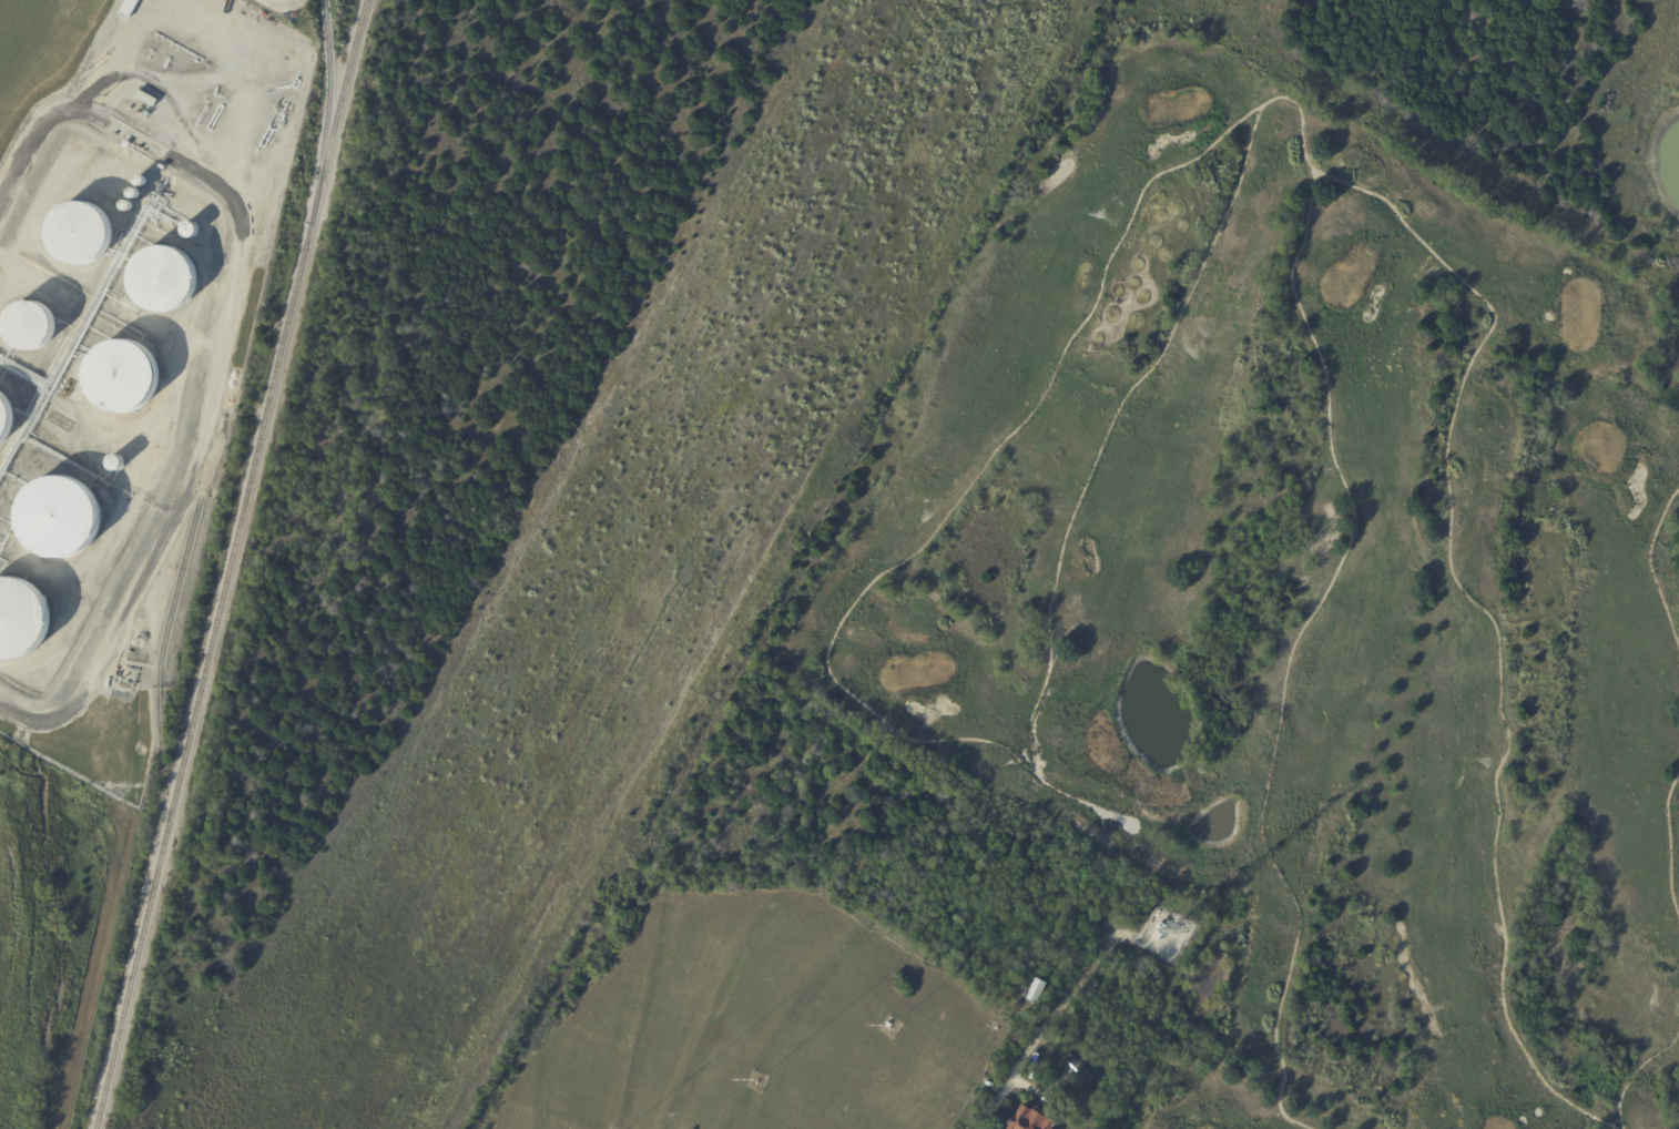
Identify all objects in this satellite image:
building: (128, 8)
railway: (326, 112)
road: (1305, 230)
road: (969, 486)
railway: (228, 563)
road: (1650, 567)
park: (1291, 594)
road: (1489, 618)
railway: (164, 644)
road: (1125, 832)
road: (1669, 844)
building: (1057, 945)
building: (1025, 990)
road: (1036, 1046)
road: (1635, 1070)
building: (1027, 1120)

